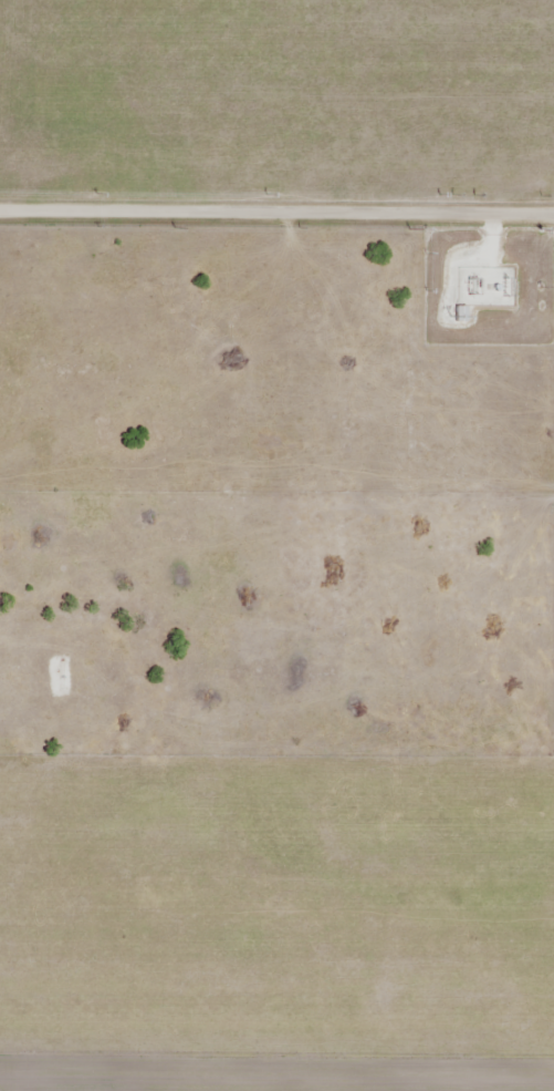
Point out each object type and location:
road: (276, 207)
power tower: (174, 227)
power tower: (405, 227)
power tower: (539, 229)
power tower: (537, 286)
power substation: (484, 288)
building: (450, 316)

